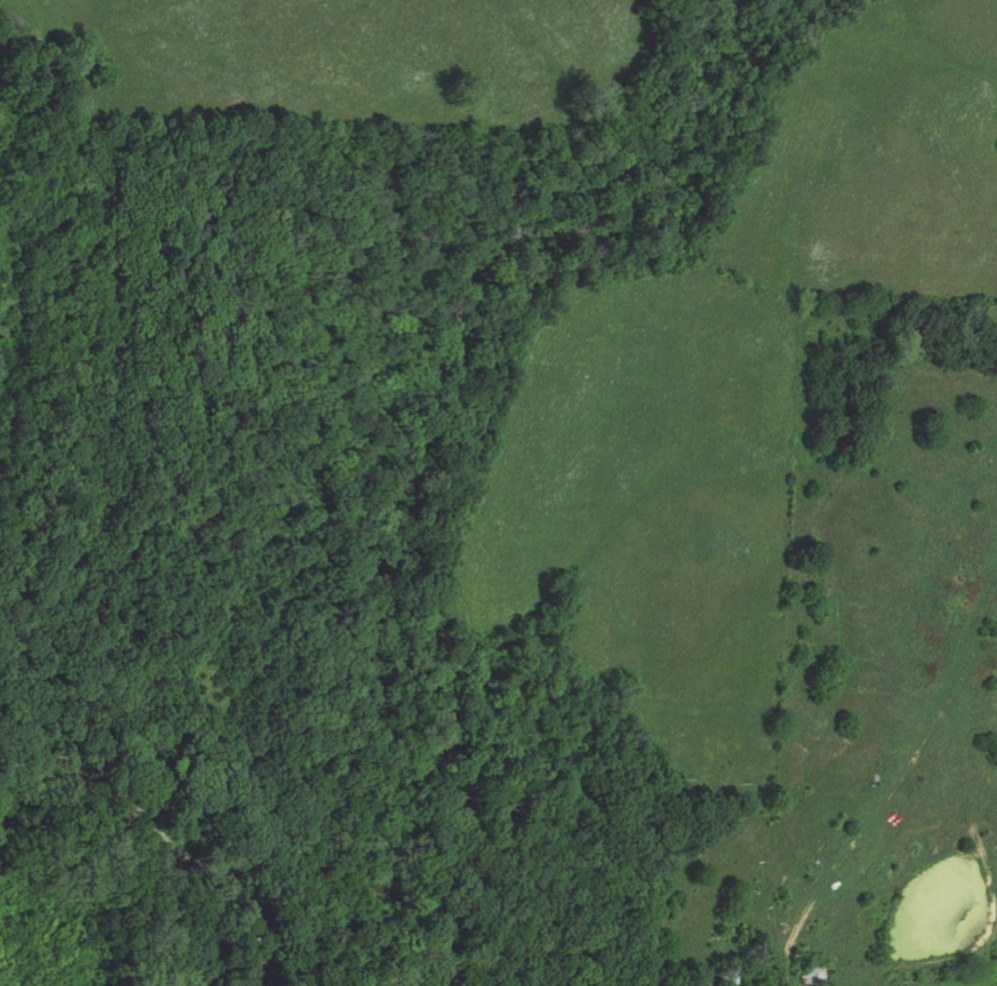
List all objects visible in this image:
road: (780, 957)
building: (808, 973)
building: (724, 983)

